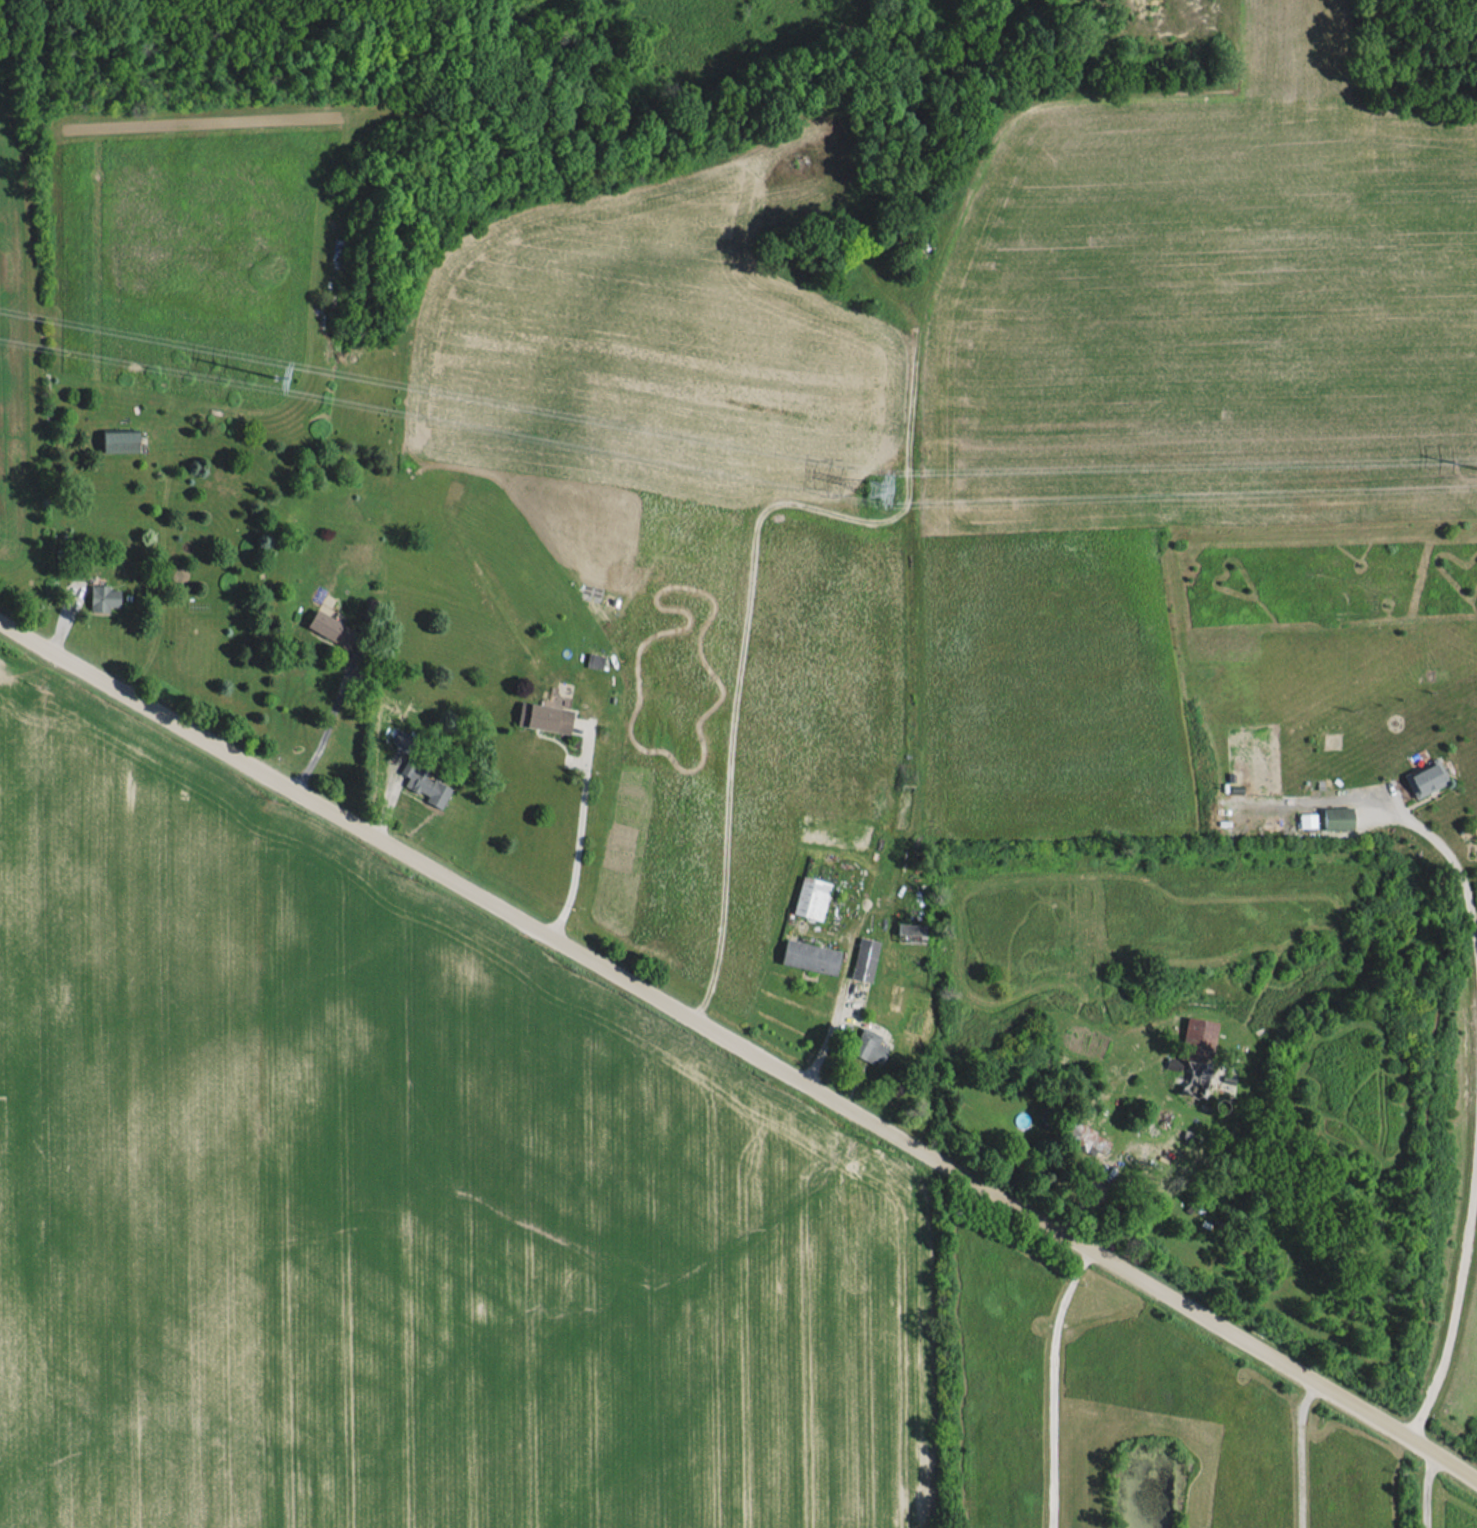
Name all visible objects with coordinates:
power tower: (275, 375)
building: (120, 441)
power tower: (877, 489)
building: (103, 597)
building: (595, 660)
building: (544, 717)
road: (335, 738)
building: (1426, 779)
building: (424, 783)
building: (1337, 818)
building: (1307, 820)
road: (579, 836)
road: (1461, 870)
building: (811, 897)
building: (911, 933)
building: (810, 956)
building: (864, 959)
road: (836, 1011)
building: (1195, 1044)
building: (869, 1046)
road: (741, 1047)
building: (1085, 1138)
road: (1456, 1292)
road: (1055, 1384)
road: (1300, 1454)
road: (1427, 1491)

